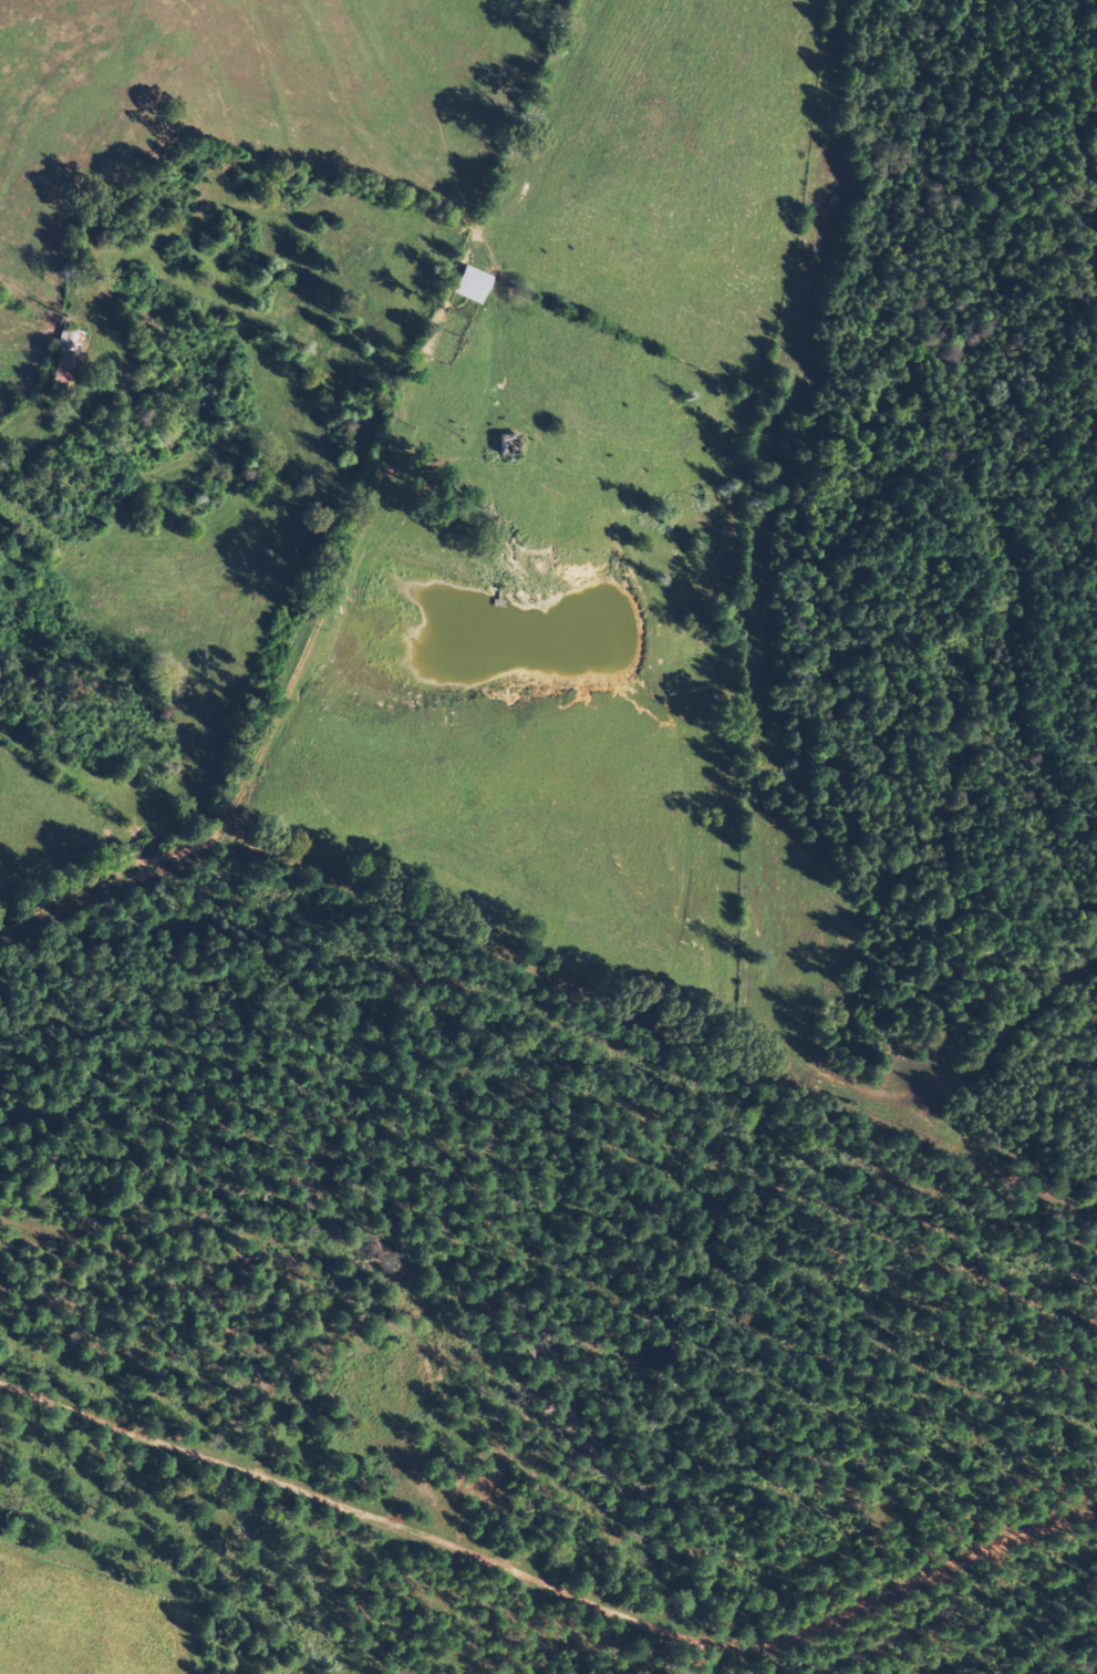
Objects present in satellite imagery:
building: (477, 283)
road: (239, 1292)
road: (12, 1592)

